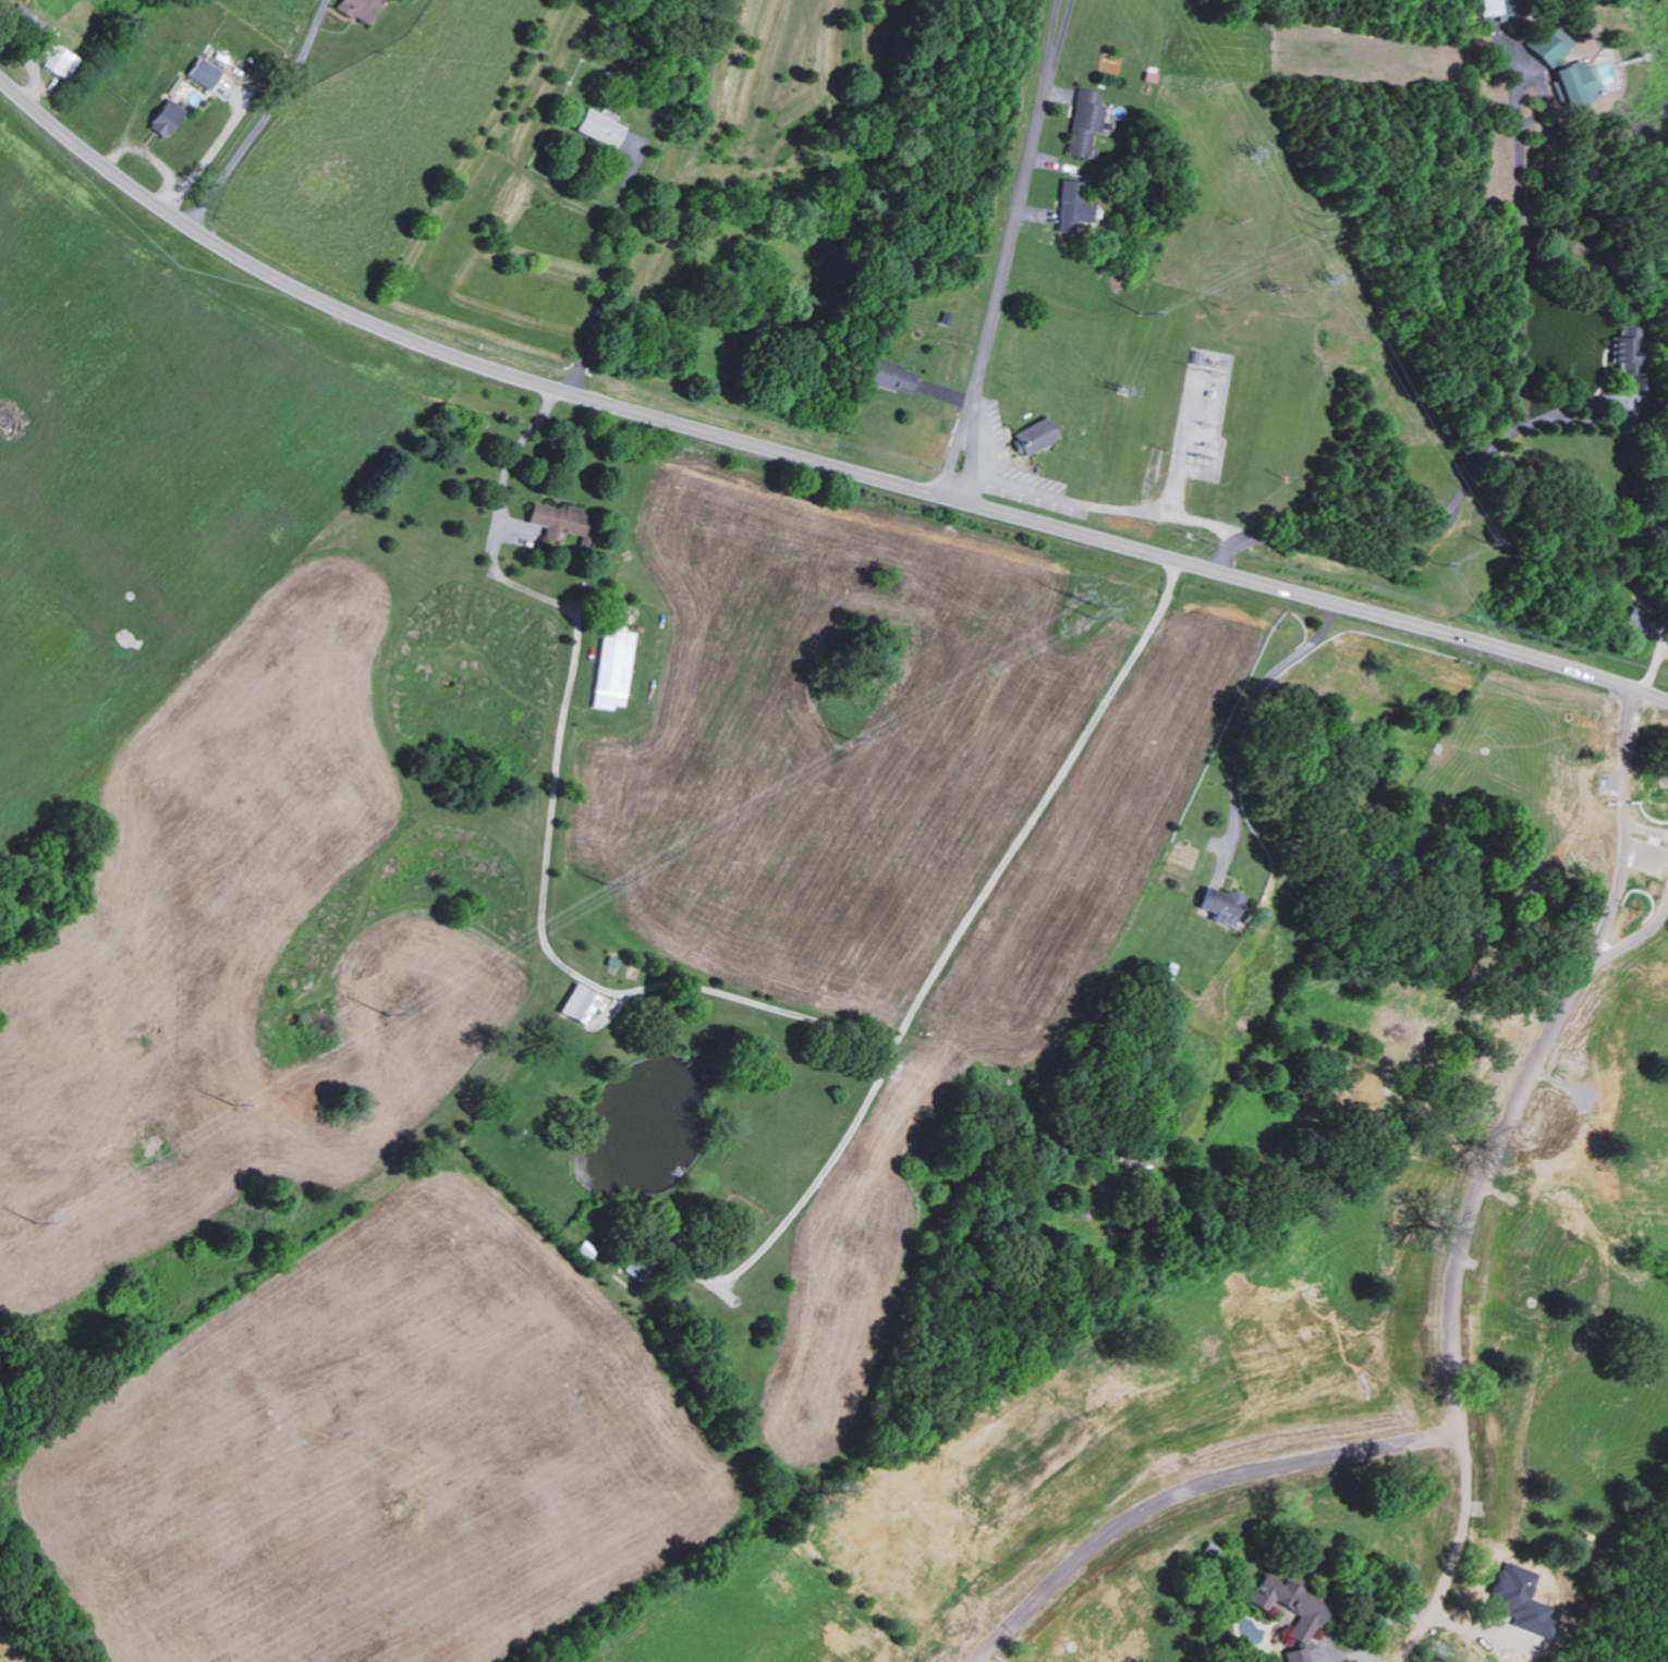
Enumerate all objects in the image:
building: (361, 9)
building: (1549, 42)
building: (58, 57)
building: (204, 72)
building: (1574, 81)
building: (167, 117)
road: (263, 117)
building: (1085, 120)
building: (600, 126)
building: (1072, 205)
road: (1006, 248)
road: (605, 268)
building: (892, 375)
road: (1511, 410)
road: (977, 413)
power substation: (1203, 414)
building: (1036, 435)
road: (802, 459)
road: (1109, 509)
building: (560, 521)
building: (613, 667)
road: (1240, 721)
road: (552, 784)
road: (1622, 869)
building: (1223, 903)
building: (582, 1001)
road: (1480, 1178)
road: (1184, 1491)
road: (1458, 1551)
building: (1293, 1603)
building: (1299, 1654)

